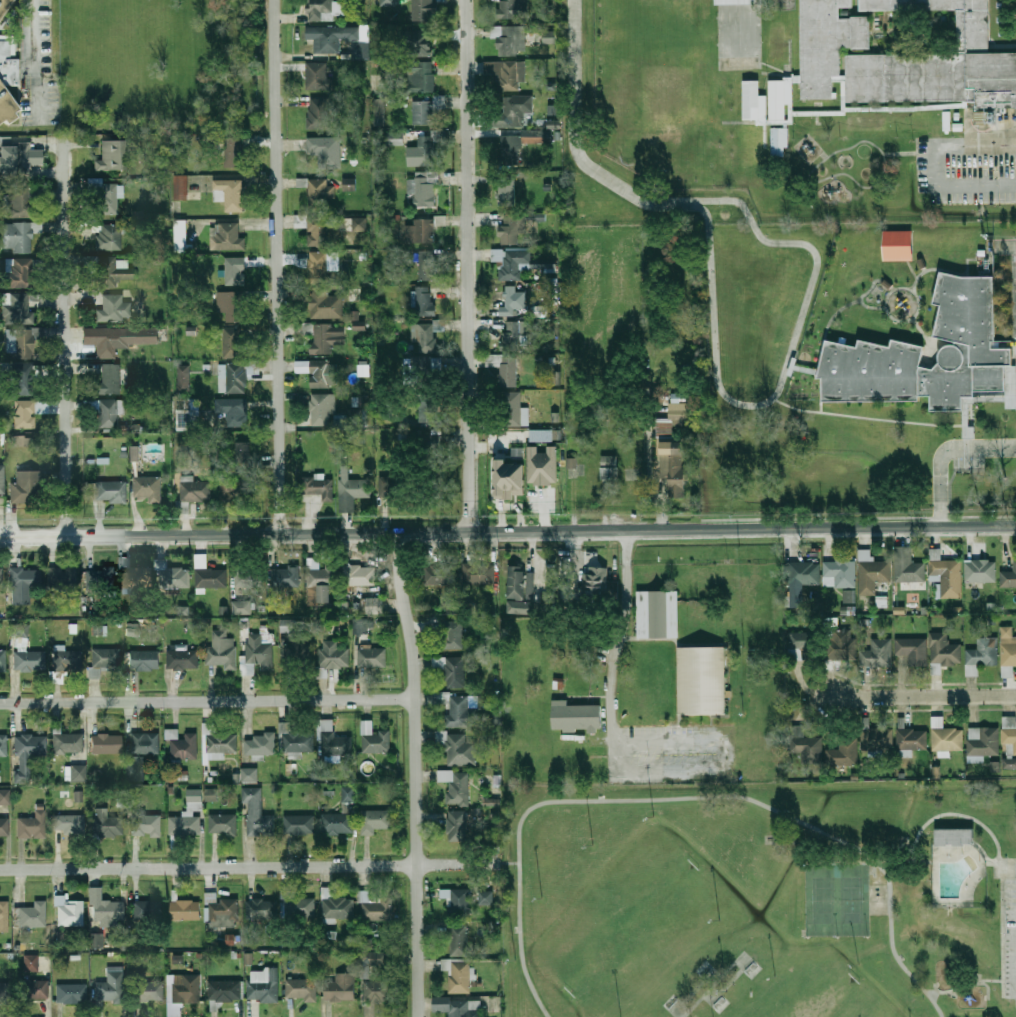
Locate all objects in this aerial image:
building: (737, 1)
building: (388, 3)
building: (4, 7)
building: (320, 9)
building: (513, 9)
building: (424, 10)
building: (549, 37)
building: (333, 38)
building: (509, 39)
building: (416, 43)
building: (902, 57)
road: (34, 59)
parking lot: (40, 67)
building: (507, 74)
building: (319, 75)
building: (421, 76)
building: (780, 100)
building: (753, 103)
building: (7, 107)
building: (427, 109)
building: (379, 111)
building: (510, 112)
building: (318, 113)
building: (554, 124)
building: (534, 136)
building: (395, 138)
building: (779, 141)
road: (573, 142)
building: (509, 149)
building: (427, 150)
building: (325, 151)
road: (909, 152)
road: (882, 153)
building: (113, 155)
building: (231, 156)
building: (18, 158)
road: (936, 165)
building: (348, 184)
building: (181, 186)
building: (425, 189)
building: (323, 190)
building: (507, 192)
building: (229, 194)
building: (105, 196)
building: (19, 202)
building: (512, 228)
building: (322, 231)
building: (424, 231)
building: (21, 236)
building: (180, 236)
building: (109, 237)
building: (226, 237)
building: (897, 244)
road: (811, 249)
building: (512, 262)
building: (544, 264)
building: (319, 265)
building: (428, 265)
road: (470, 265)
road: (279, 267)
building: (235, 271)
building: (109, 272)
building: (19, 273)
road: (711, 287)
building: (424, 301)
building: (513, 302)
building: (324, 304)
building: (229, 305)
building: (19, 309)
building: (114, 309)
building: (541, 311)
building: (357, 321)
building: (428, 335)
building: (511, 336)
building: (324, 338)
building: (107, 340)
building: (972, 341)
building: (20, 343)
building: (234, 343)
road: (69, 355)
building: (436, 364)
building: (504, 369)
building: (363, 370)
building: (320, 374)
building: (183, 377)
building: (232, 378)
building: (110, 379)
building: (24, 380)
road: (746, 406)
building: (428, 407)
building: (516, 409)
building: (321, 410)
building: (232, 411)
building: (109, 413)
building: (24, 415)
building: (353, 415)
building: (188, 420)
building: (664, 428)
building: (541, 435)
building: (22, 440)
building: (432, 443)
building: (242, 452)
road: (945, 452)
building: (134, 453)
building: (571, 462)
building: (541, 465)
building: (671, 467)
building: (609, 470)
building: (508, 479)
building: (2, 480)
building: (386, 486)
building: (28, 487)
building: (148, 488)
building: (318, 488)
building: (233, 489)
building: (194, 490)
building: (111, 492)
building: (351, 492)
road: (507, 530)
building: (907, 566)
building: (980, 571)
building: (478, 573)
building: (802, 573)
building: (872, 573)
building: (839, 574)
building: (209, 575)
building: (358, 575)
building: (436, 575)
building: (947, 576)
building: (172, 577)
building: (248, 577)
building: (285, 577)
building: (1008, 577)
building: (133, 579)
building: (1, 580)
building: (320, 580)
building: (67, 581)
building: (100, 581)
building: (597, 581)
building: (517, 582)
building: (529, 583)
building: (23, 584)
building: (847, 596)
building: (373, 602)
building: (241, 607)
building: (451, 609)
building: (847, 610)
building: (656, 614)
building: (289, 626)
building: (360, 626)
building: (99, 631)
building: (132, 632)
building: (452, 635)
building: (801, 642)
building: (221, 649)
building: (841, 649)
building: (945, 651)
building: (257, 653)
building: (877, 653)
building: (916, 653)
building: (297, 655)
building: (333, 655)
building: (981, 655)
building: (1008, 656)
building: (27, 657)
building: (372, 657)
building: (182, 659)
building: (144, 660)
building: (3, 661)
building: (103, 661)
building: (73, 662)
building: (451, 670)
building: (701, 680)
road: (610, 690)
road: (924, 695)
road: (206, 700)
building: (460, 709)
building: (576, 716)
building: (1009, 737)
building: (374, 738)
building: (295, 739)
building: (879, 739)
building: (912, 739)
building: (948, 739)
building: (219, 741)
building: (334, 741)
building: (983, 741)
building: (67, 742)
building: (107, 743)
building: (182, 744)
building: (261, 744)
building: (806, 745)
building: (4, 746)
building: (143, 747)
building: (457, 747)
building: (843, 753)
building: (28, 754)
building: (1009, 763)
building: (993, 766)
building: (135, 768)
building: (78, 773)
road: (413, 774)
building: (249, 775)
building: (456, 785)
building: (210, 794)
building: (5, 797)
road: (687, 798)
building: (491, 801)
building: (257, 813)
road: (952, 814)
building: (340, 815)
building: (188, 818)
building: (375, 820)
building: (107, 823)
building: (69, 824)
building: (222, 824)
building: (299, 824)
building: (457, 824)
building: (146, 825)
building: (32, 826)
building: (4, 827)
building: (953, 837)
road: (984, 854)
road: (1007, 859)
road: (905, 862)
road: (510, 864)
road: (251, 867)
park: (877, 887)
building: (485, 898)
park: (760, 899)
park: (823, 900)
park: (850, 900)
building: (459, 902)
park: (877, 906)
building: (105, 907)
building: (375, 907)
building: (300, 908)
building: (148, 909)
building: (222, 909)
building: (262, 909)
building: (338, 909)
building: (185, 910)
building: (68, 912)
building: (33, 915)
building: (4, 916)
park: (630, 924)
road: (999, 927)
parking lot: (1010, 938)
building: (230, 939)
building: (459, 939)
building: (97, 941)
building: (177, 959)
building: (370, 962)
building: (31, 963)
road: (697, 970)
building: (459, 976)
road: (731, 981)
road: (962, 982)
road: (713, 985)
building: (111, 987)
building: (302, 987)
building: (345, 987)
road: (694, 989)
road: (986, 989)
building: (34, 990)
building: (225, 990)
building: (263, 990)
building: (147, 991)
building: (377, 991)
park: (819, 991)
building: (4, 992)
building: (184, 992)
building: (72, 993)
building: (458, 1006)

